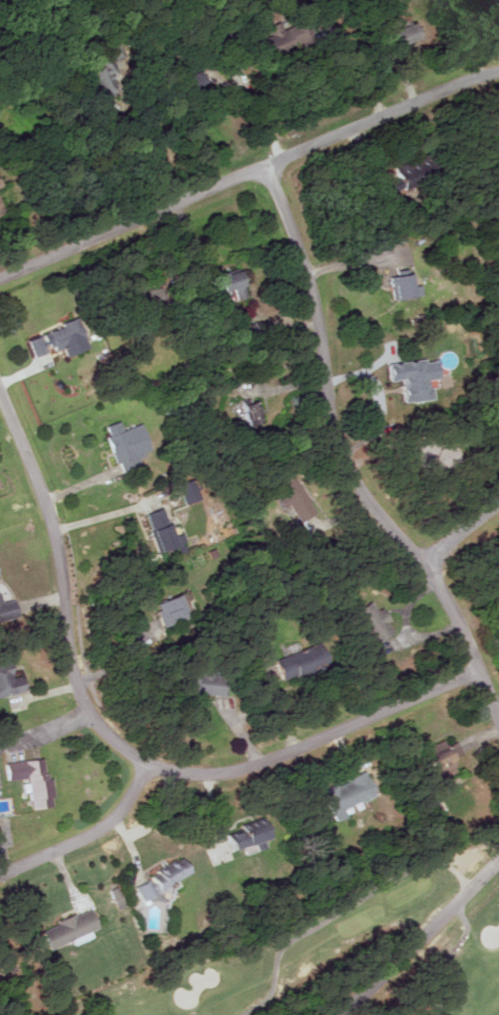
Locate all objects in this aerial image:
building: (408, 34)
building: (282, 38)
road: (359, 67)
building: (100, 81)
road: (260, 110)
road: (138, 166)
road: (250, 173)
building: (417, 175)
building: (0, 211)
building: (233, 284)
building: (403, 288)
building: (63, 339)
building: (416, 378)
building: (251, 413)
building: (128, 445)
road: (343, 462)
building: (298, 499)
road: (99, 517)
road: (460, 528)
building: (167, 539)
building: (0, 575)
building: (176, 609)
building: (9, 610)
building: (378, 622)
building: (306, 660)
building: (10, 679)
building: (211, 682)
road: (44, 730)
road: (121, 747)
building: (445, 758)
building: (34, 779)
building: (349, 794)
road: (82, 834)
building: (252, 835)
building: (165, 878)
building: (73, 929)
road: (415, 936)
park: (328, 948)

